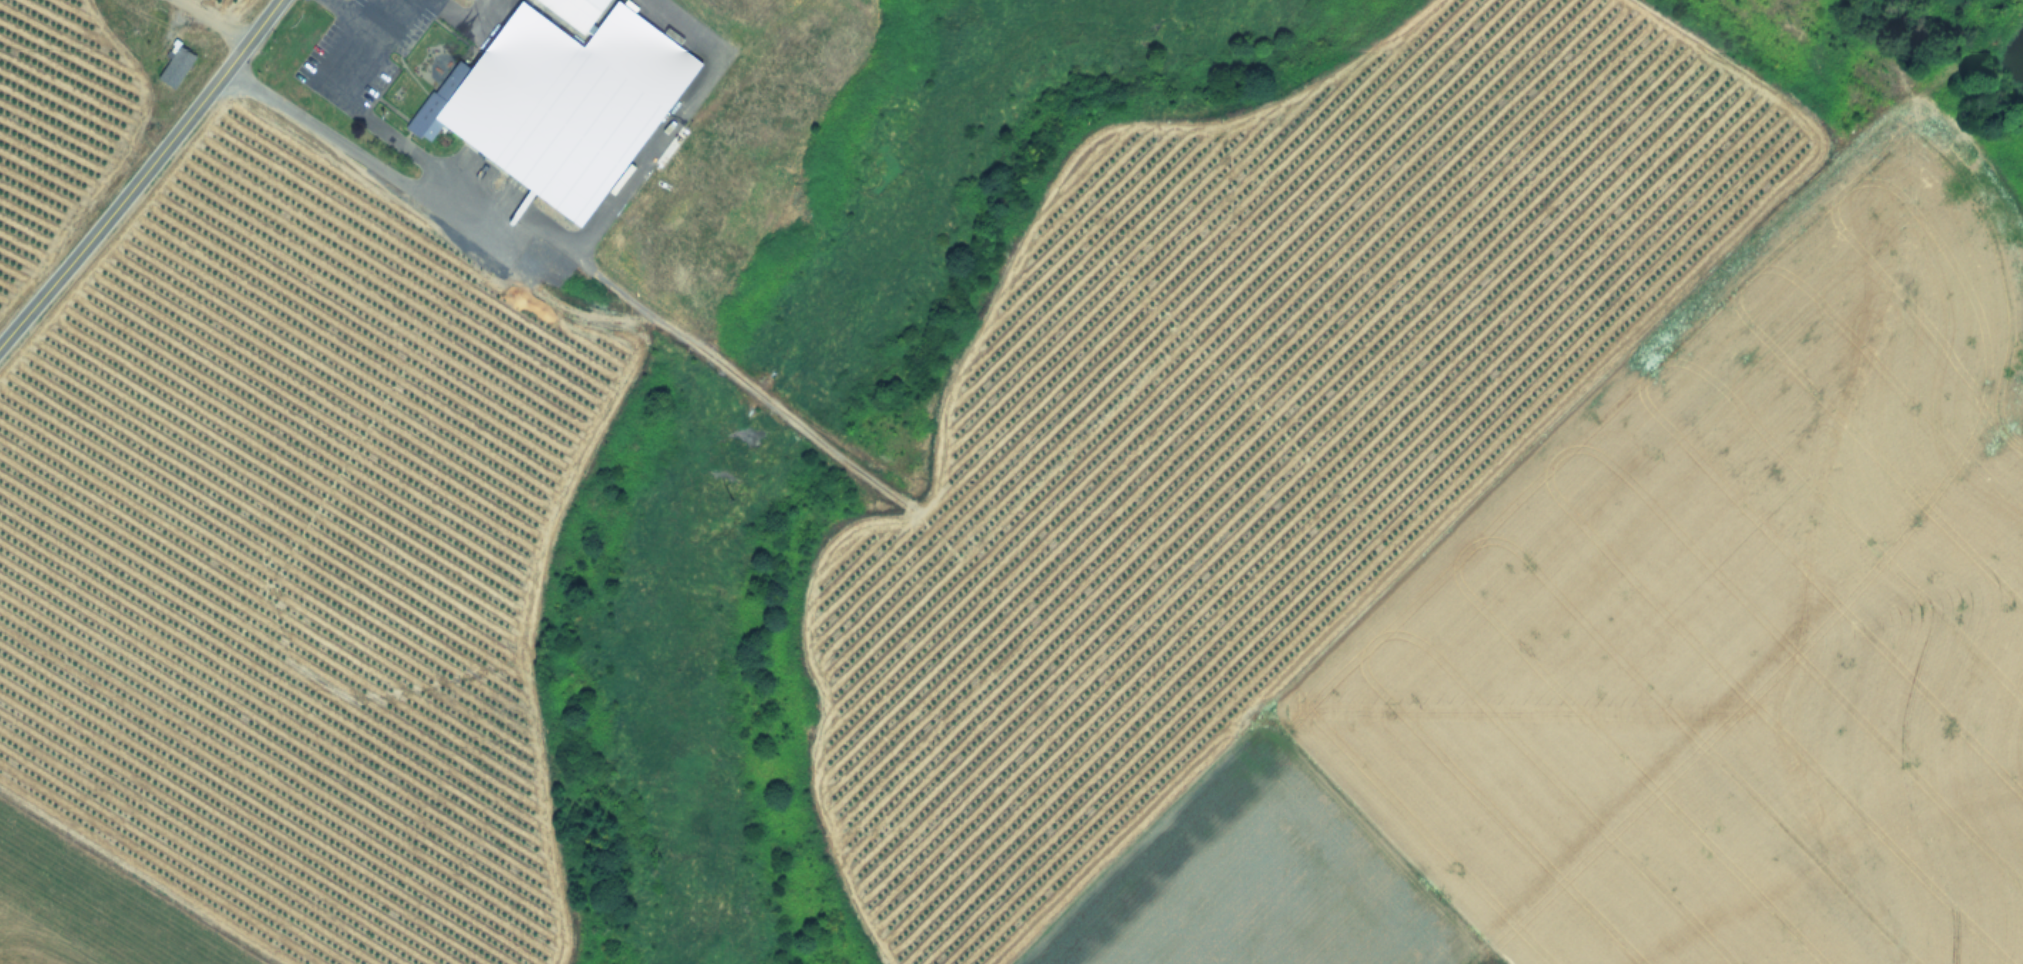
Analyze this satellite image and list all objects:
building: (469, 2)
building: (573, 11)
road: (386, 16)
road: (464, 20)
building: (172, 64)
crop: (73, 94)
building: (558, 102)
road: (141, 174)
road: (634, 174)
road: (438, 177)
crop: (1037, 507)

